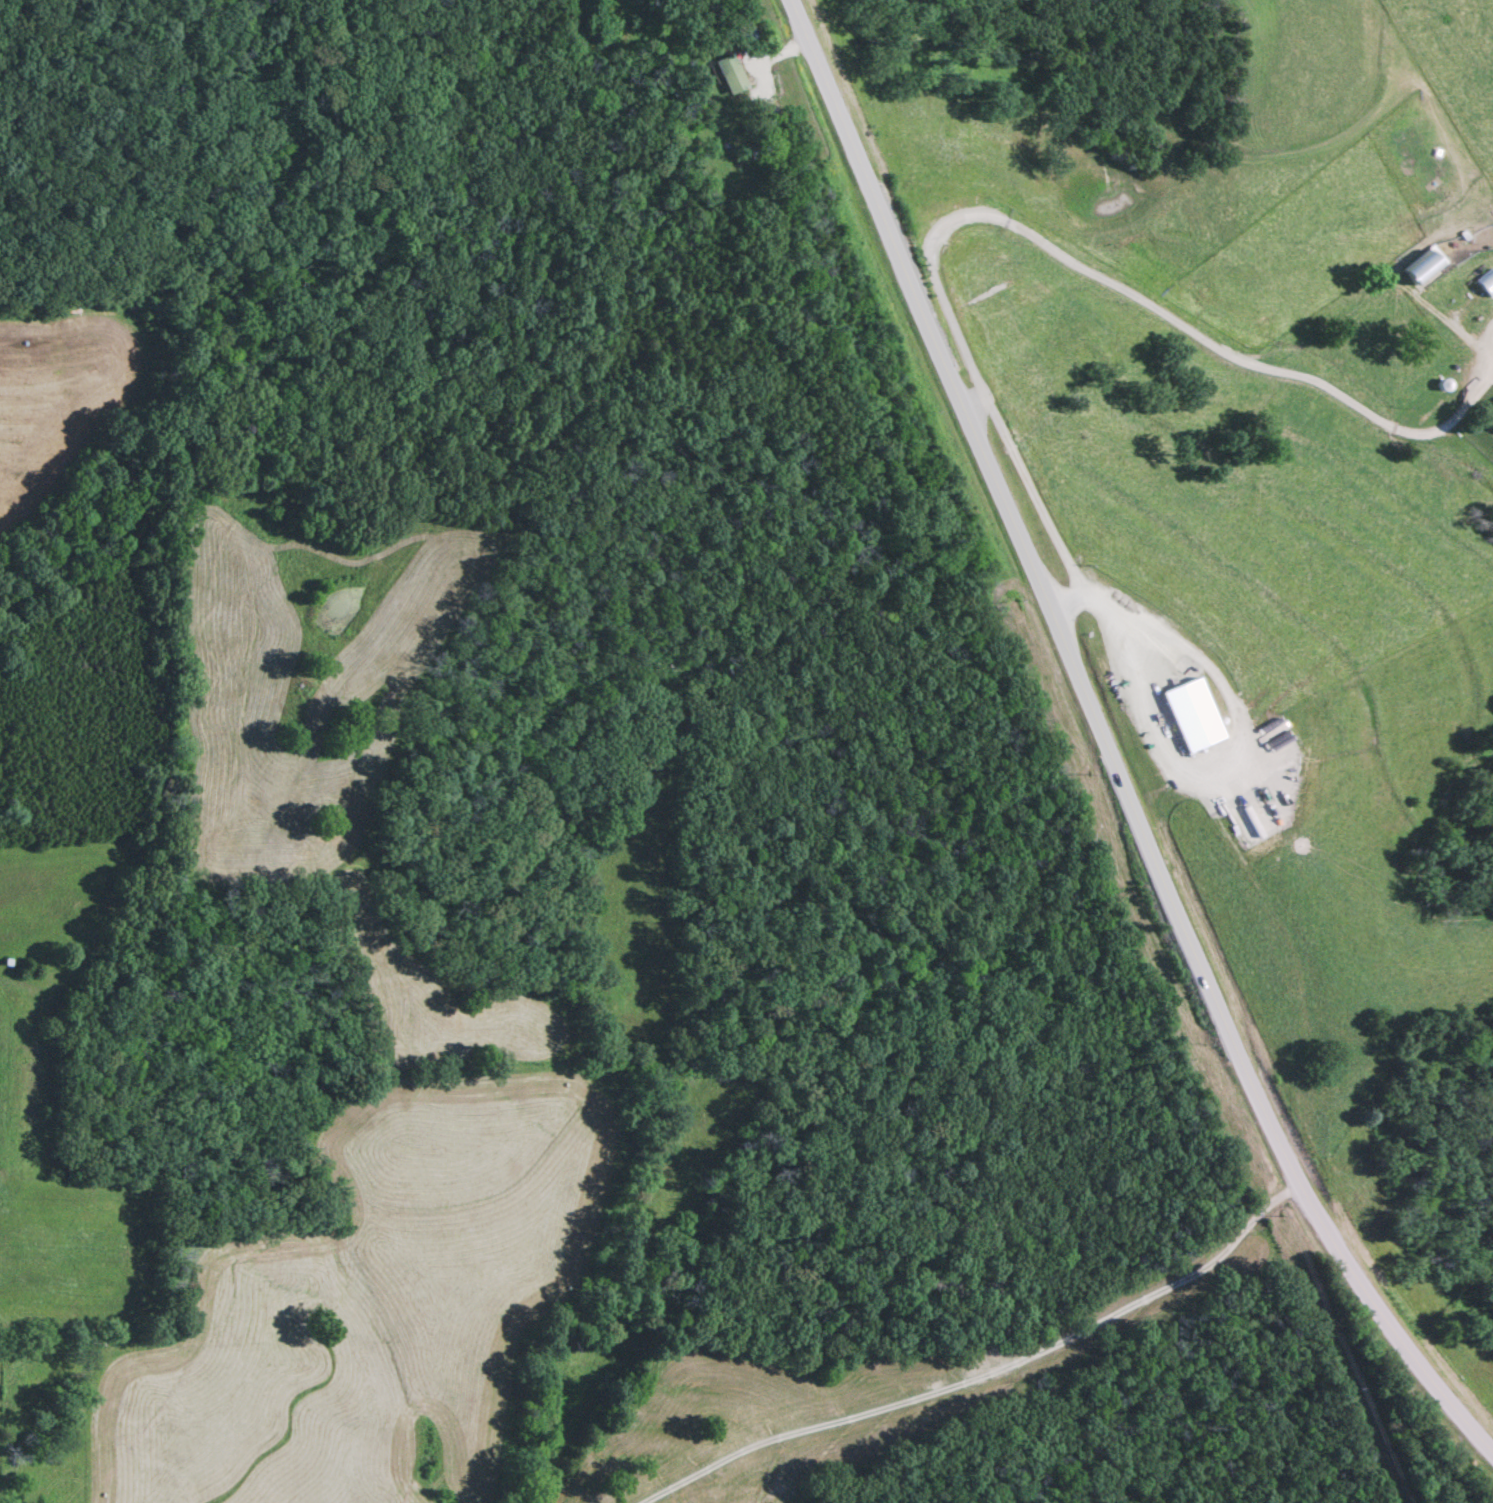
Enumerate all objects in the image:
building: (745, 34)
building: (727, 75)
building: (767, 123)
building: (1421, 270)
building: (1483, 285)
building: (1491, 426)
building: (1189, 717)
road: (1102, 746)

